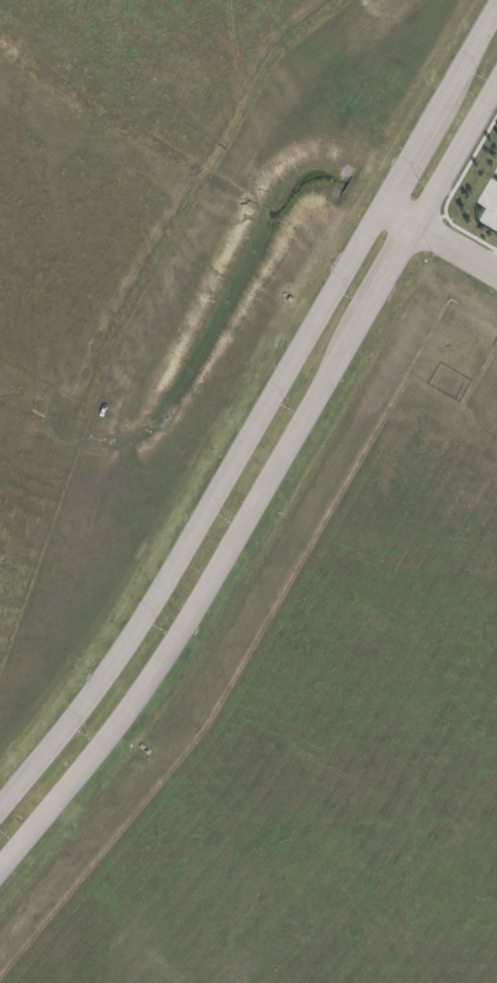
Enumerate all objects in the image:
road: (463, 62)
road: (460, 156)
road: (408, 159)
road: (404, 210)
road: (460, 243)
road: (397, 268)
road: (204, 513)
road: (200, 606)

